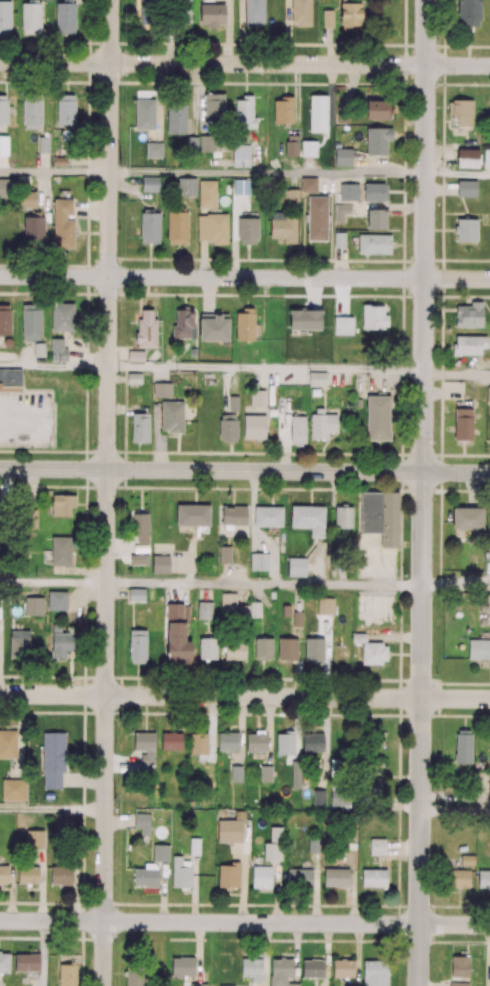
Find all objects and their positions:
road: (245, 63)
road: (54, 172)
road: (267, 172)
road: (457, 173)
road: (423, 235)
road: (245, 277)
street lamp: (437, 294)
road: (54, 366)
road: (265, 368)
road: (456, 374)
street lamp: (22, 392)
road: (24, 416)
street lamp: (59, 444)
road: (245, 470)
street lamp: (124, 489)
street lamp: (457, 489)
street lamp: (215, 490)
road: (105, 492)
road: (377, 581)
road: (52, 582)
road: (263, 584)
road: (456, 585)
street lamp: (437, 675)
road: (244, 696)
road: (420, 728)
road: (52, 810)
road: (455, 814)
road: (245, 922)

